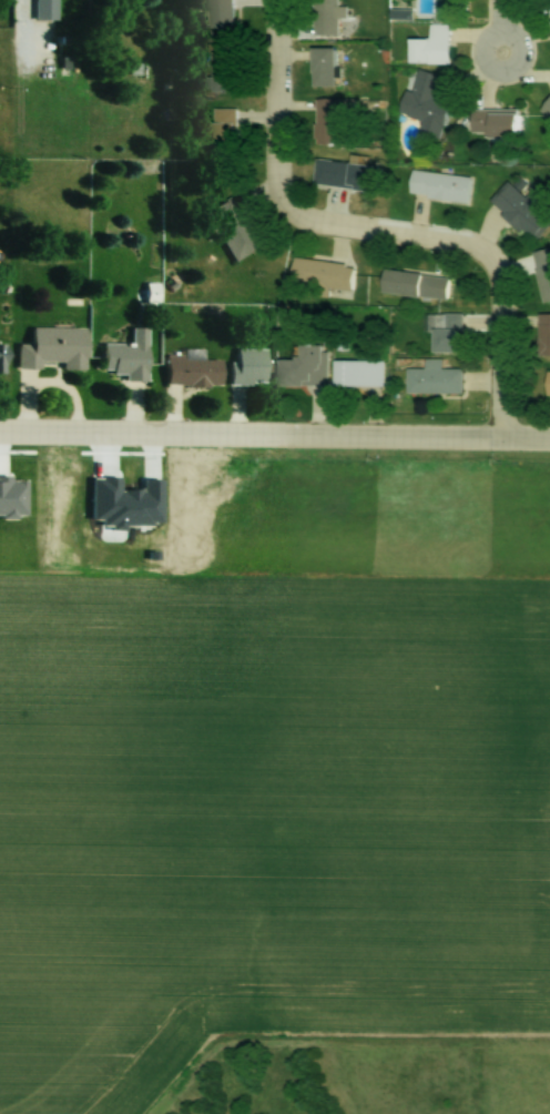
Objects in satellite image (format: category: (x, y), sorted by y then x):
building: (44, 9)
building: (326, 17)
building: (220, 19)
road: (503, 23)
building: (432, 45)
building: (325, 67)
building: (218, 71)
building: (427, 105)
building: (330, 119)
building: (497, 123)
building: (222, 130)
building: (347, 175)
building: (440, 186)
building: (521, 207)
building: (233, 230)
road: (367, 234)
building: (544, 273)
building: (322, 274)
building: (415, 283)
building: (447, 332)
building: (547, 334)
building: (53, 348)
building: (128, 357)
building: (2, 358)
building: (248, 366)
building: (303, 367)
building: (193, 371)
building: (357, 373)
building: (434, 378)
building: (548, 383)
road: (274, 439)
crop: (271, 769)

